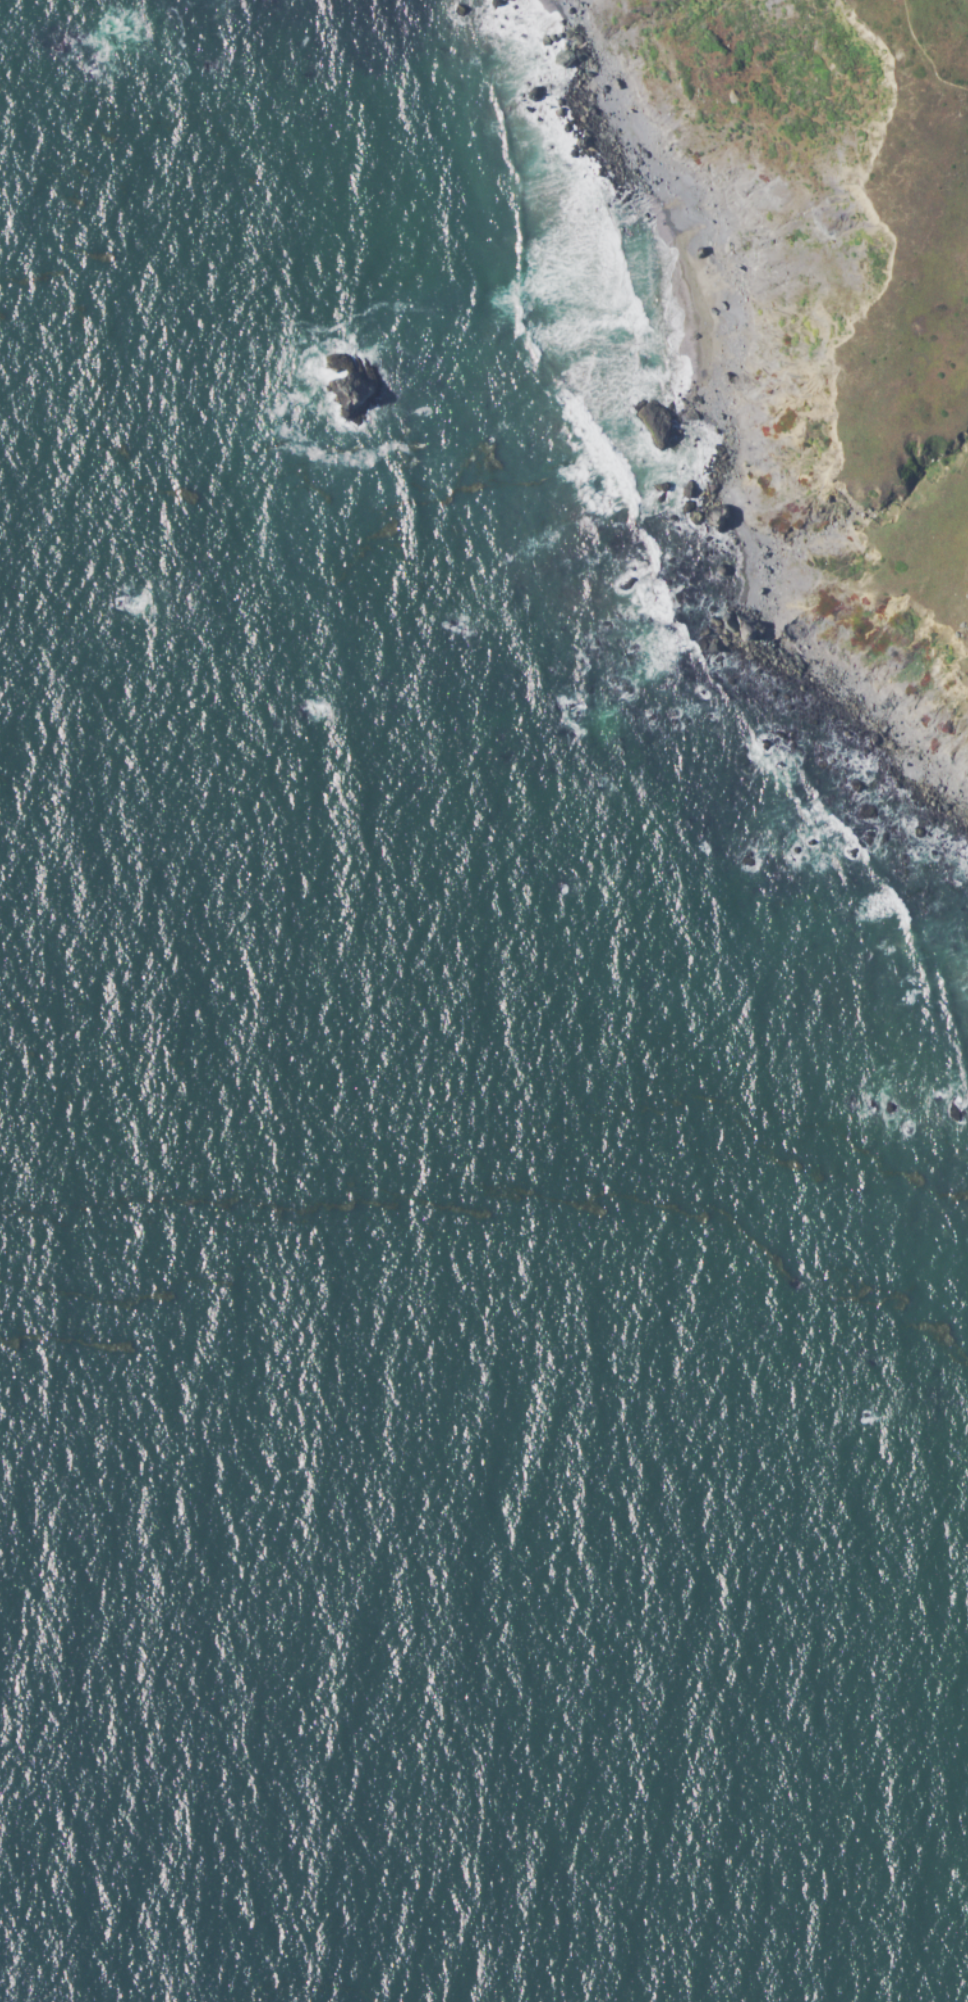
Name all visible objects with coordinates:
road: (923, 56)

